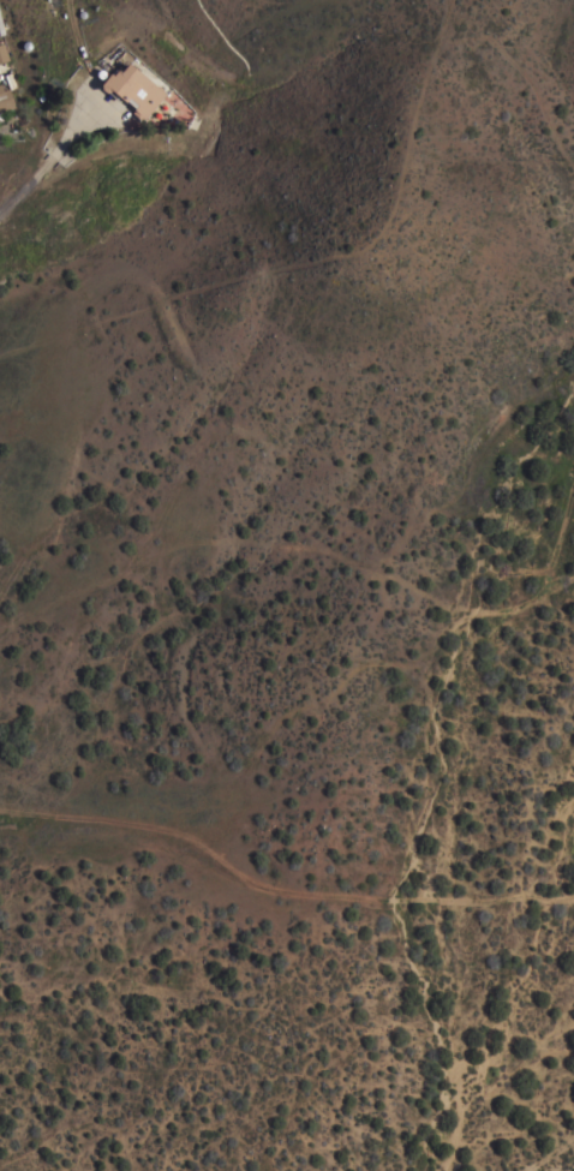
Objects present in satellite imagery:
building: (1, 28)
building: (2, 52)
building: (132, 89)
building: (5, 98)
building: (0, 112)
road: (49, 161)

